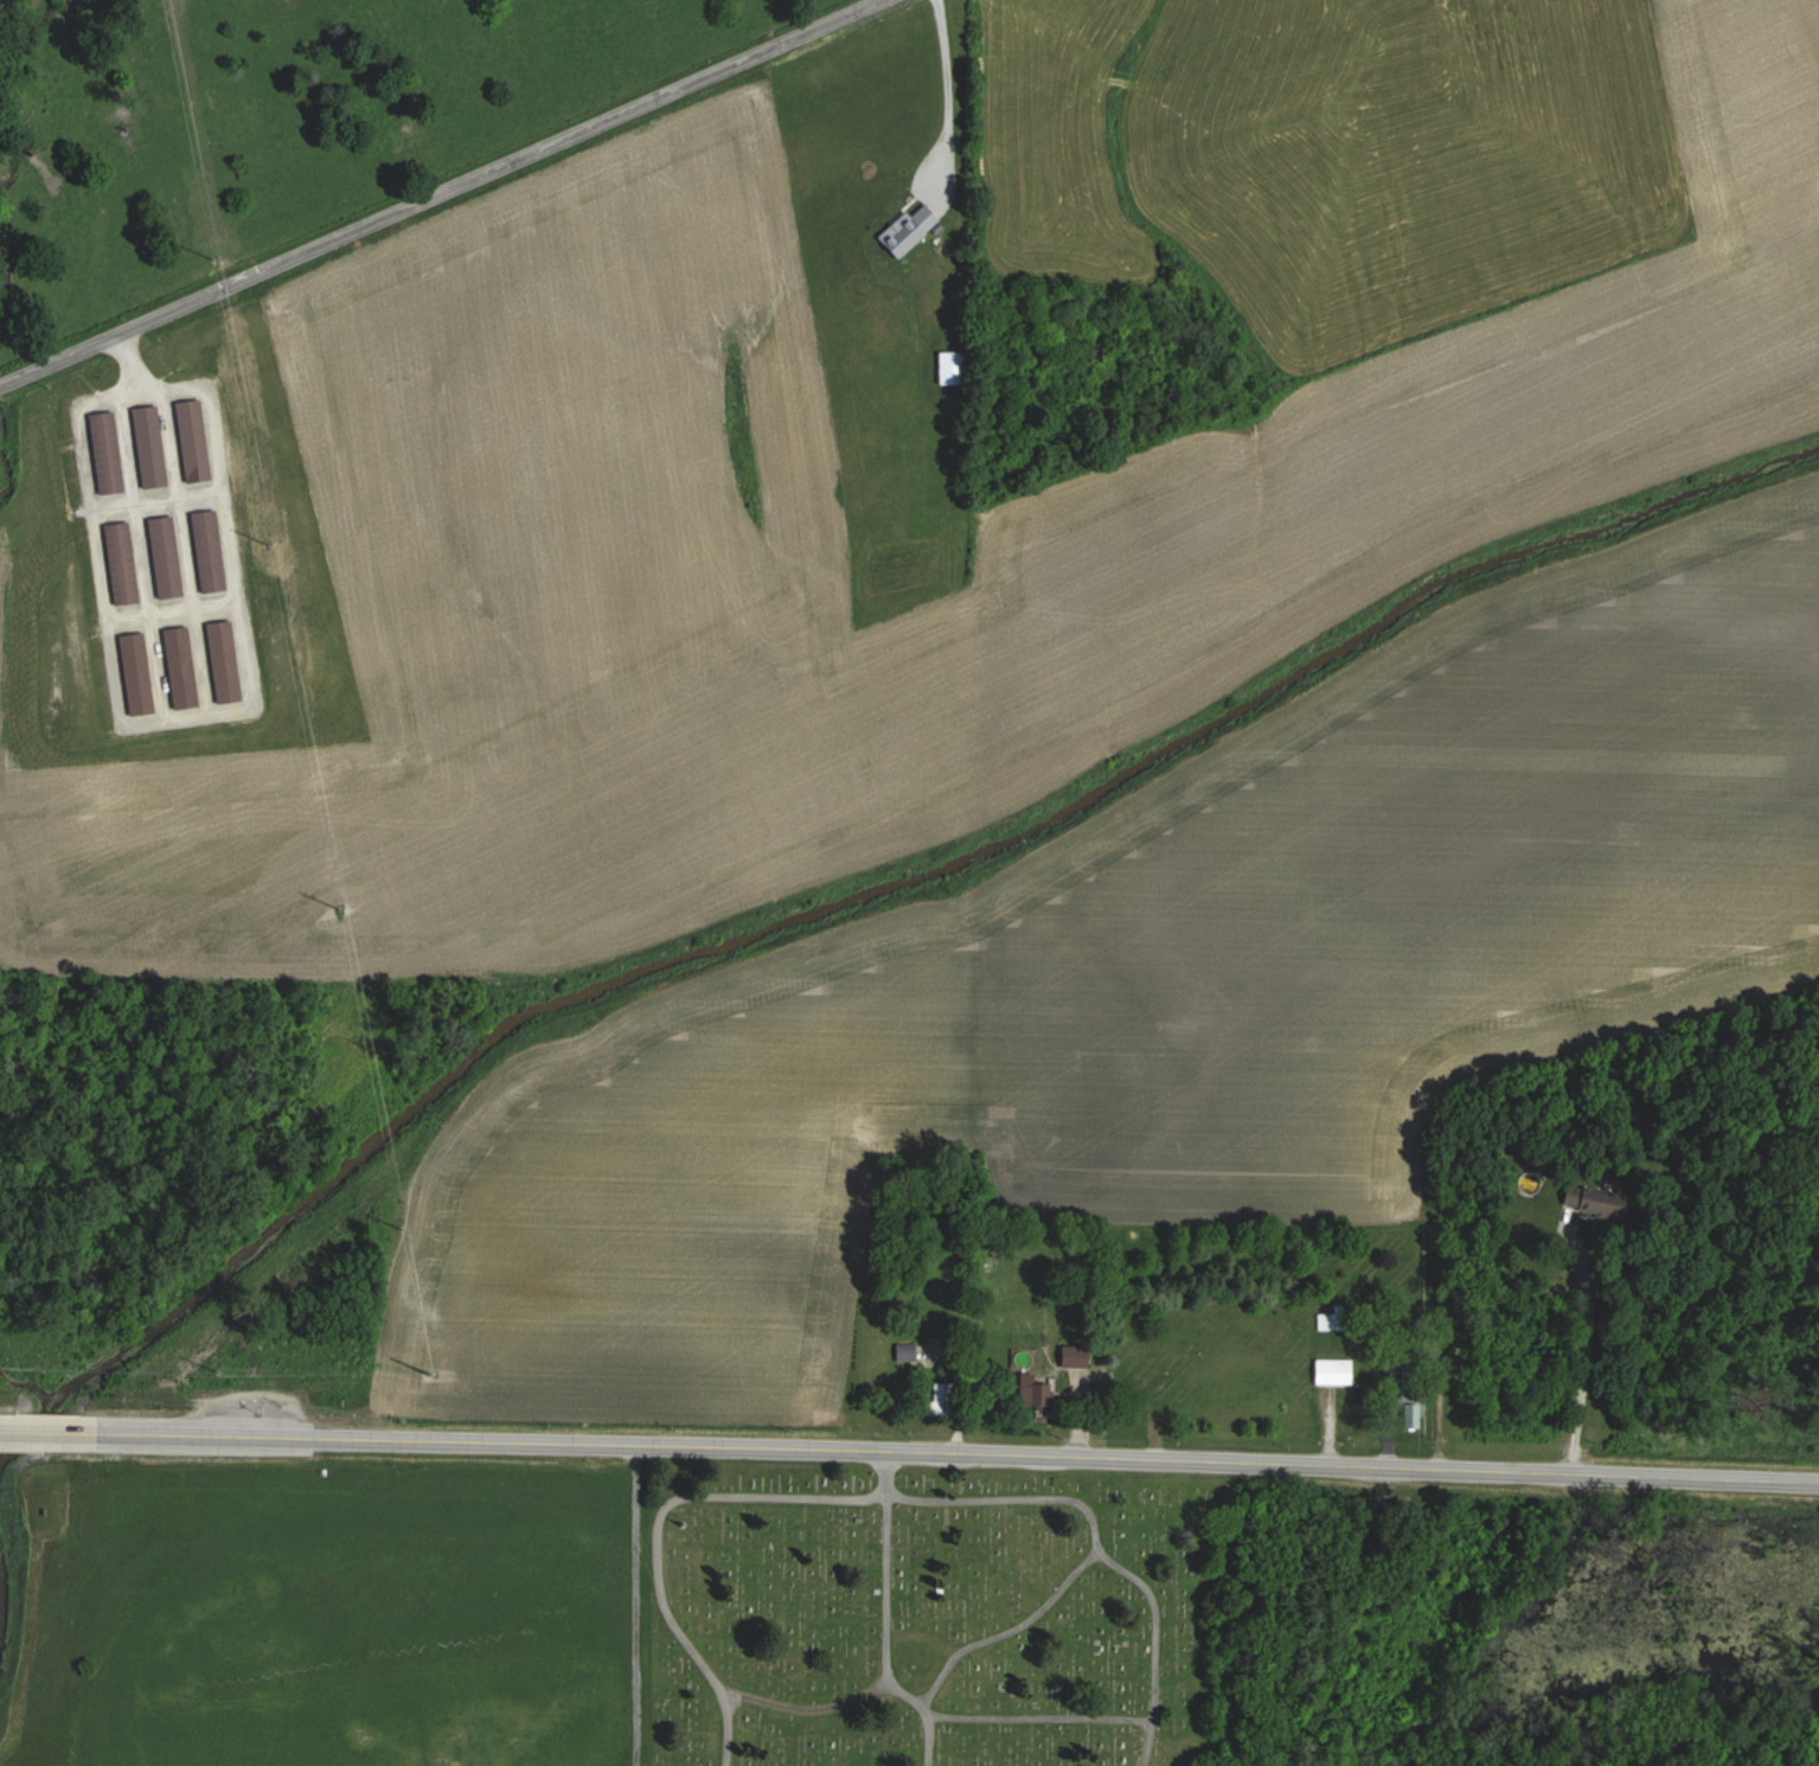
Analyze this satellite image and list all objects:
road: (948, 96)
road: (468, 184)
building: (955, 367)
road: (25, 377)
building: (197, 441)
building: (154, 447)
building: (110, 453)
building: (213, 550)
building: (169, 556)
building: (126, 563)
building: (229, 660)
road: (1583, 1344)
building: (905, 1352)
building: (1081, 1355)
building: (1331, 1371)
building: (1038, 1395)
building: (1411, 1406)
road: (909, 1460)
road: (884, 1477)
road: (658, 1534)
road: (1094, 1544)
park: (921, 1618)
road: (889, 1639)

